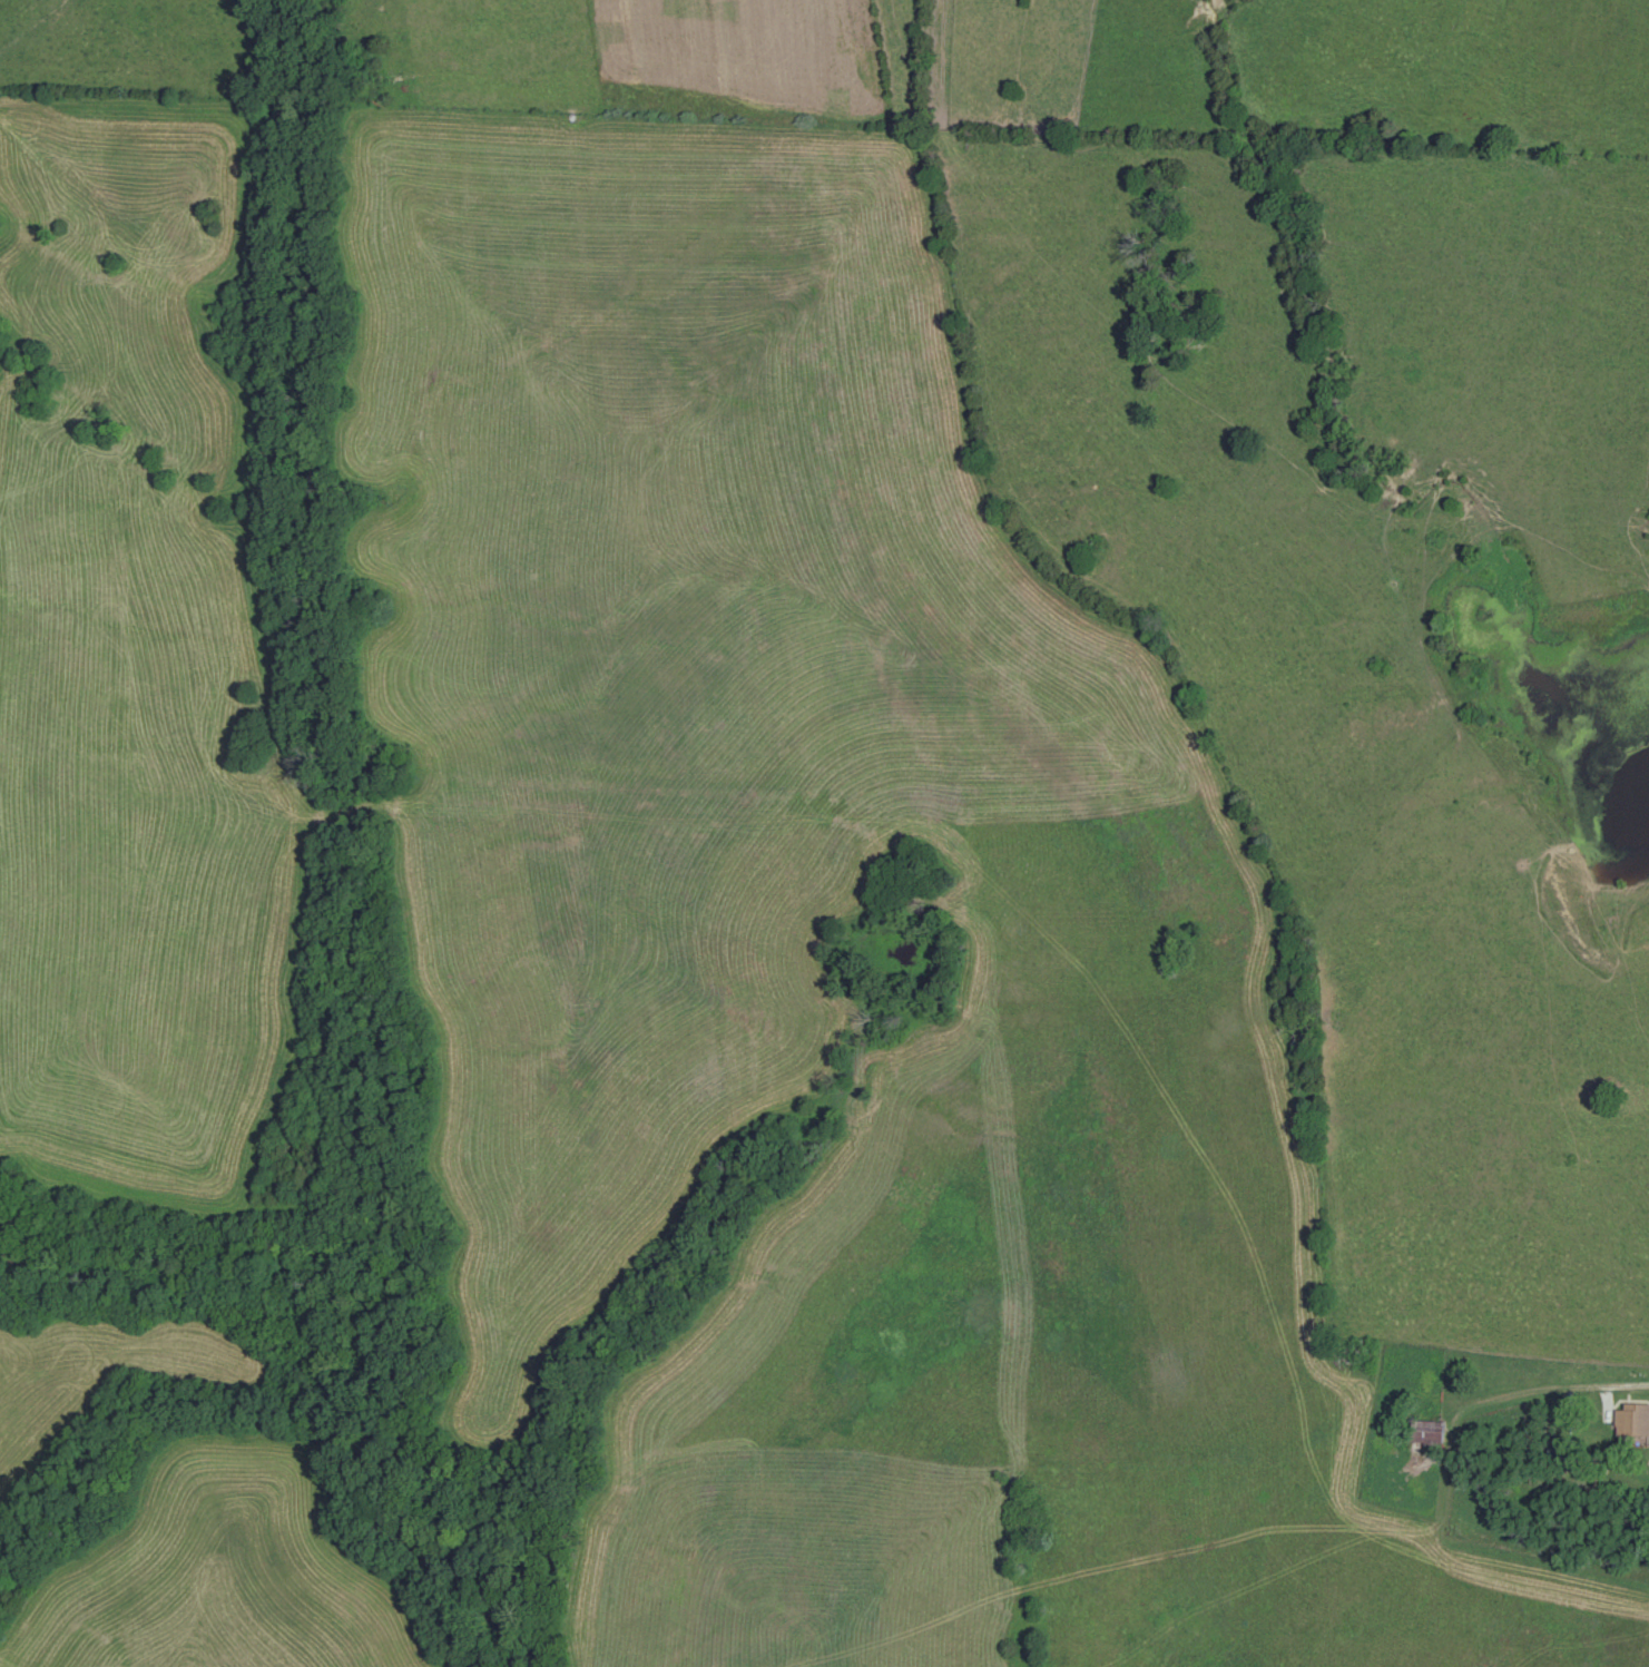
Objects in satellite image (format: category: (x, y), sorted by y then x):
road: (1554, 1390)
building: (1632, 1420)
building: (1429, 1432)

